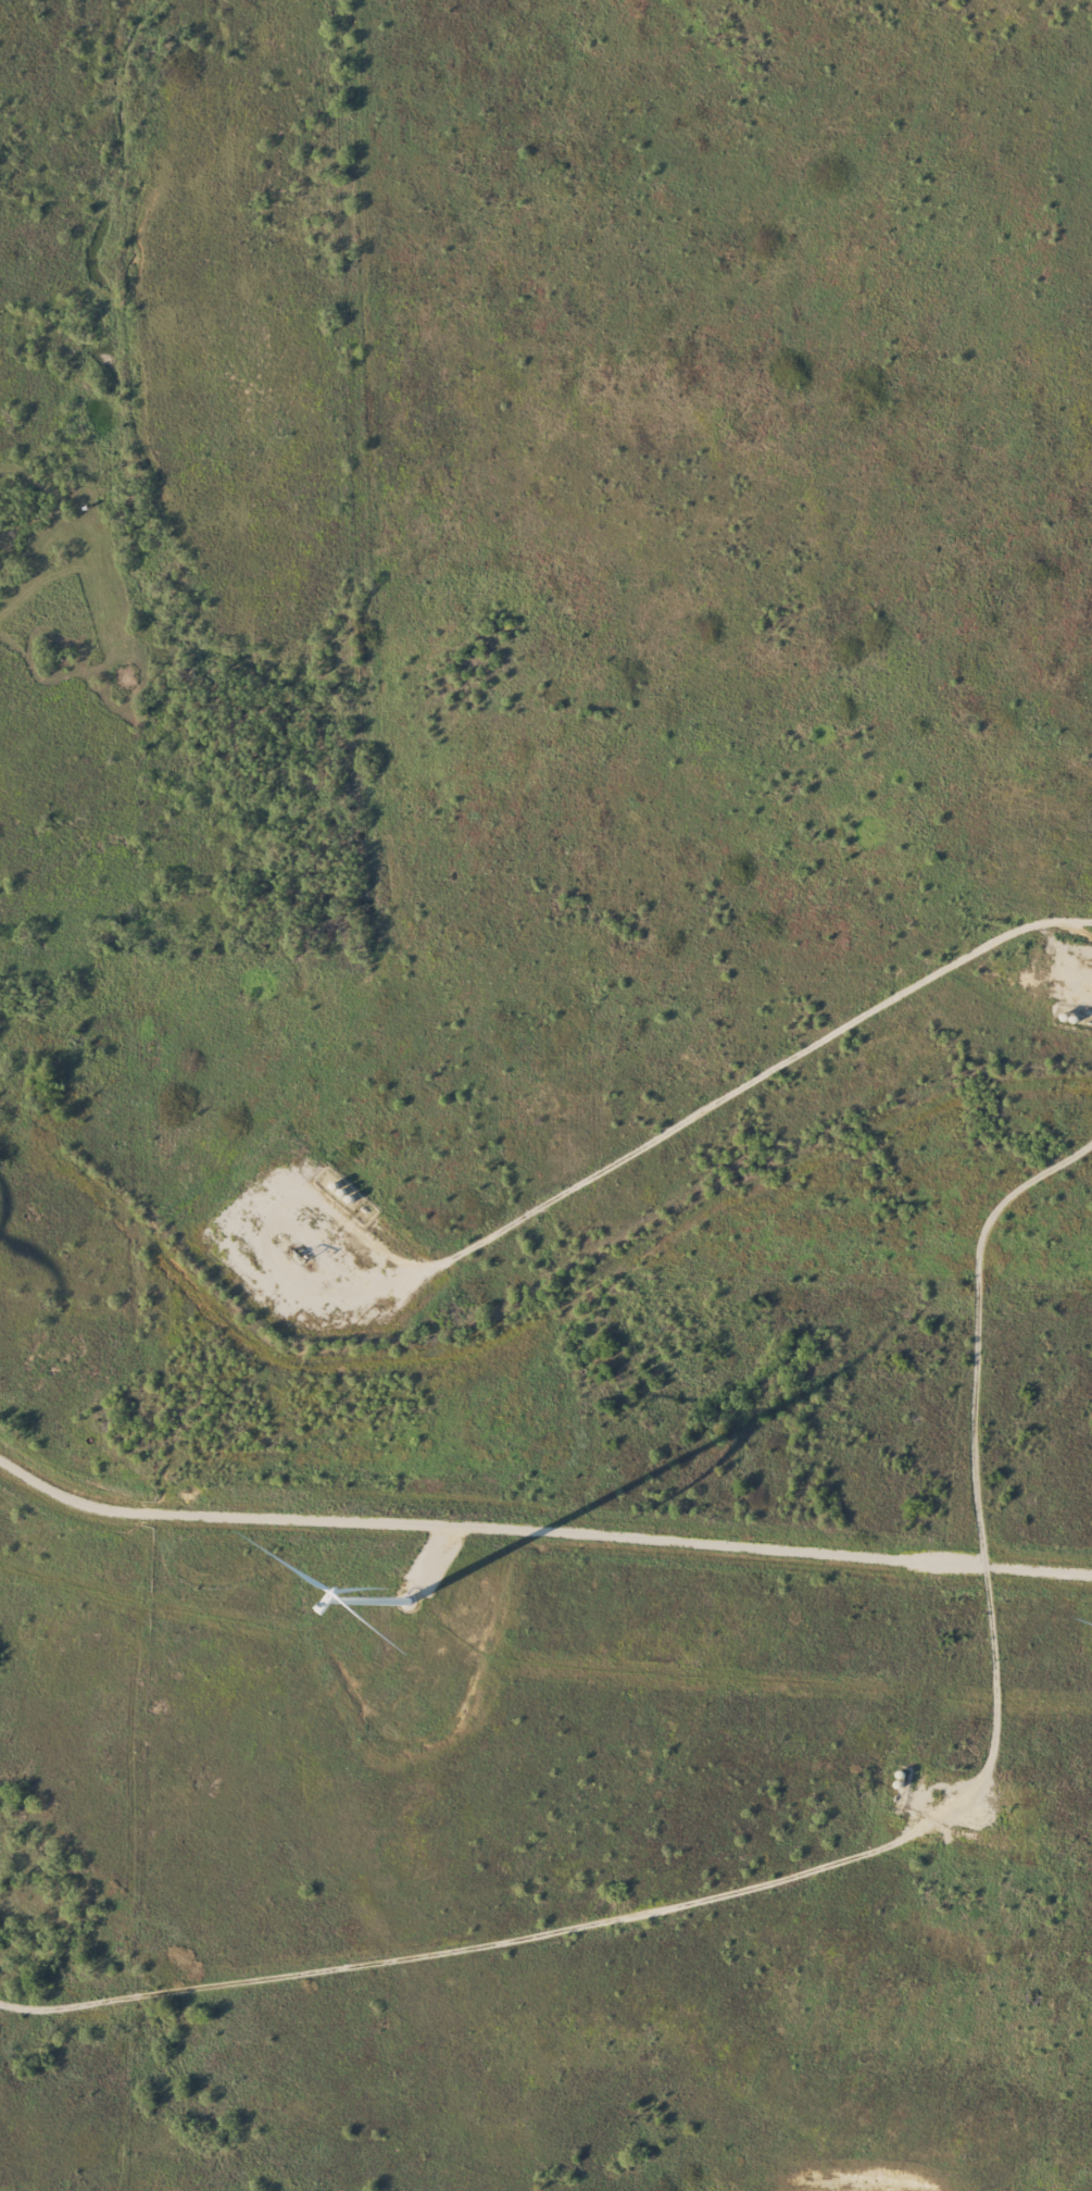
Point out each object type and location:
road: (538, 1532)
wind turbine: (405, 1605)

